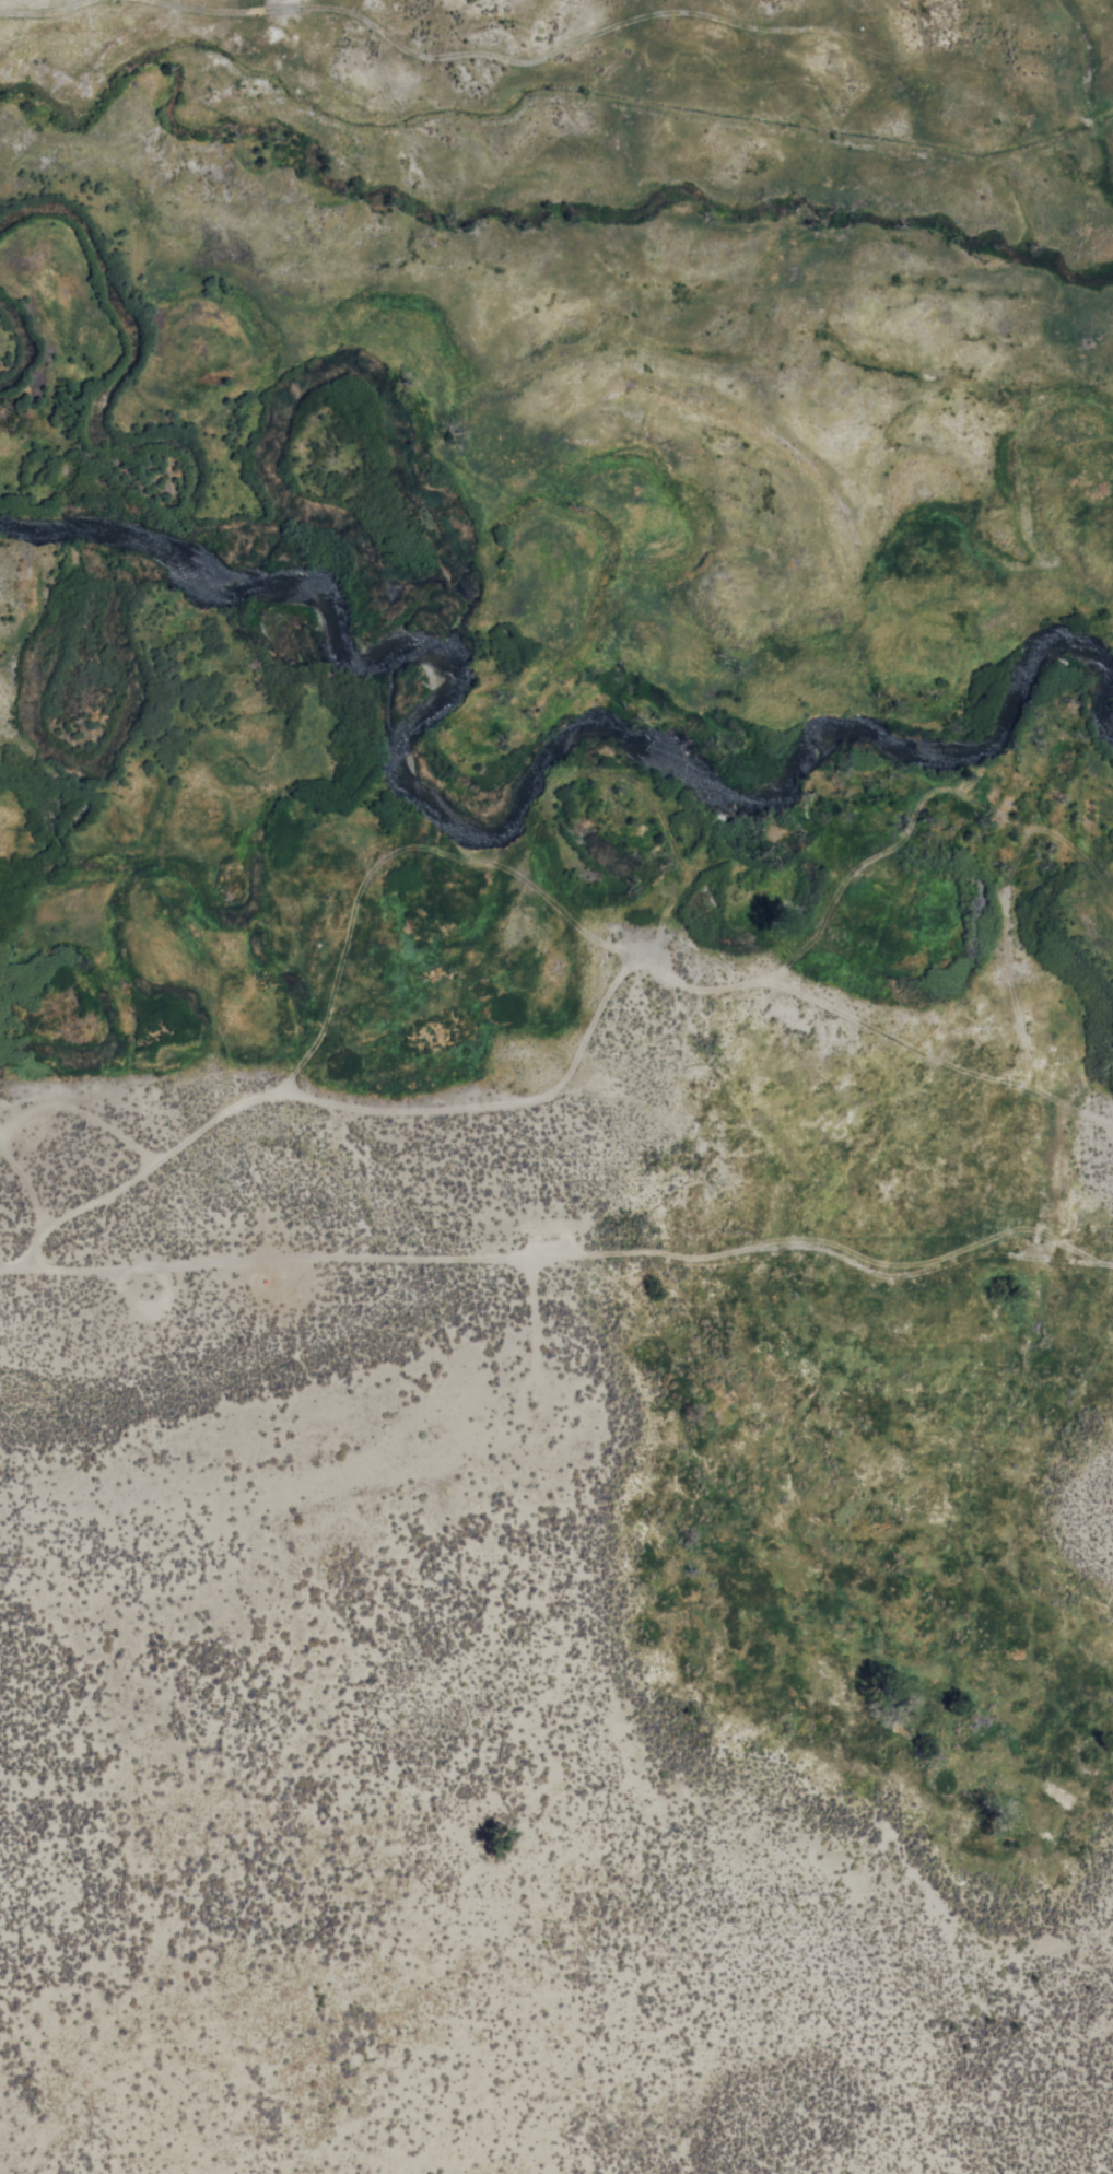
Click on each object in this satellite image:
river: (444, 553)
river: (67, 607)
road: (616, 942)
road: (678, 972)
road: (347, 974)
road: (156, 1162)
road: (560, 1253)

